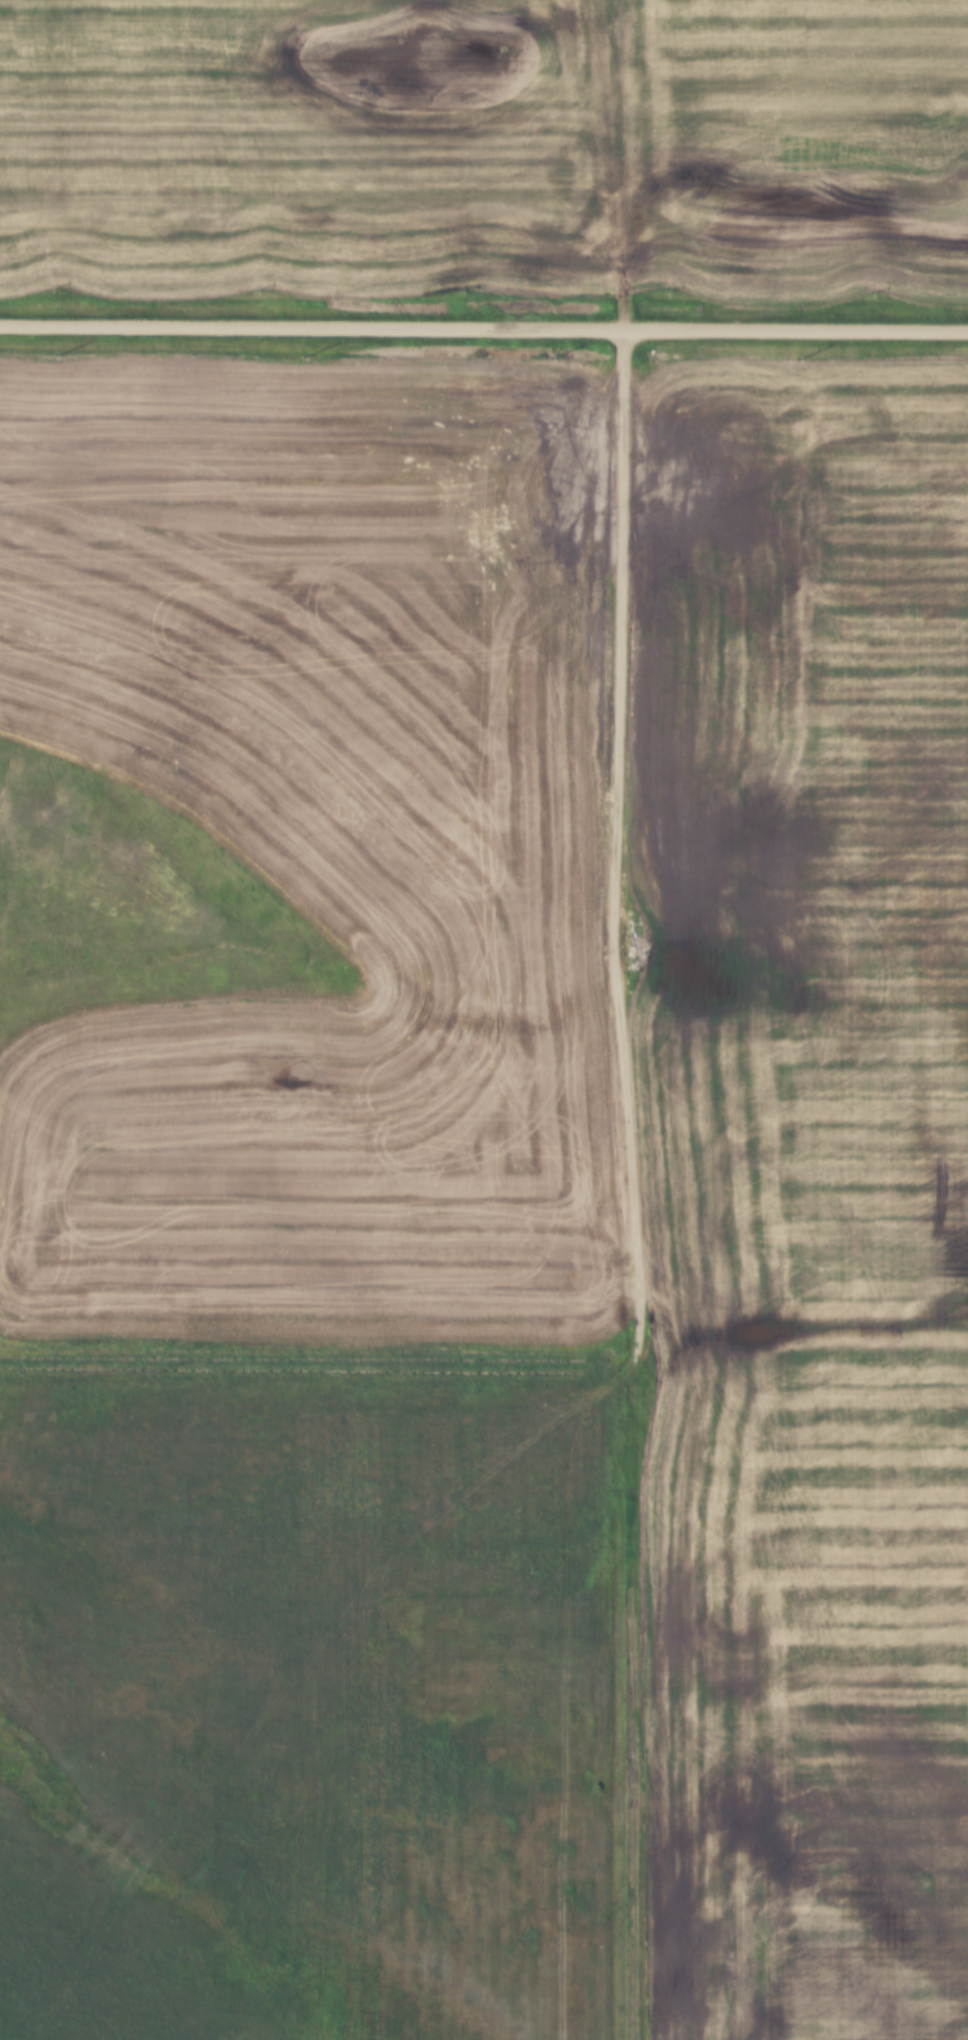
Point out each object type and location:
road: (617, 162)
road: (483, 324)
road: (616, 1182)

